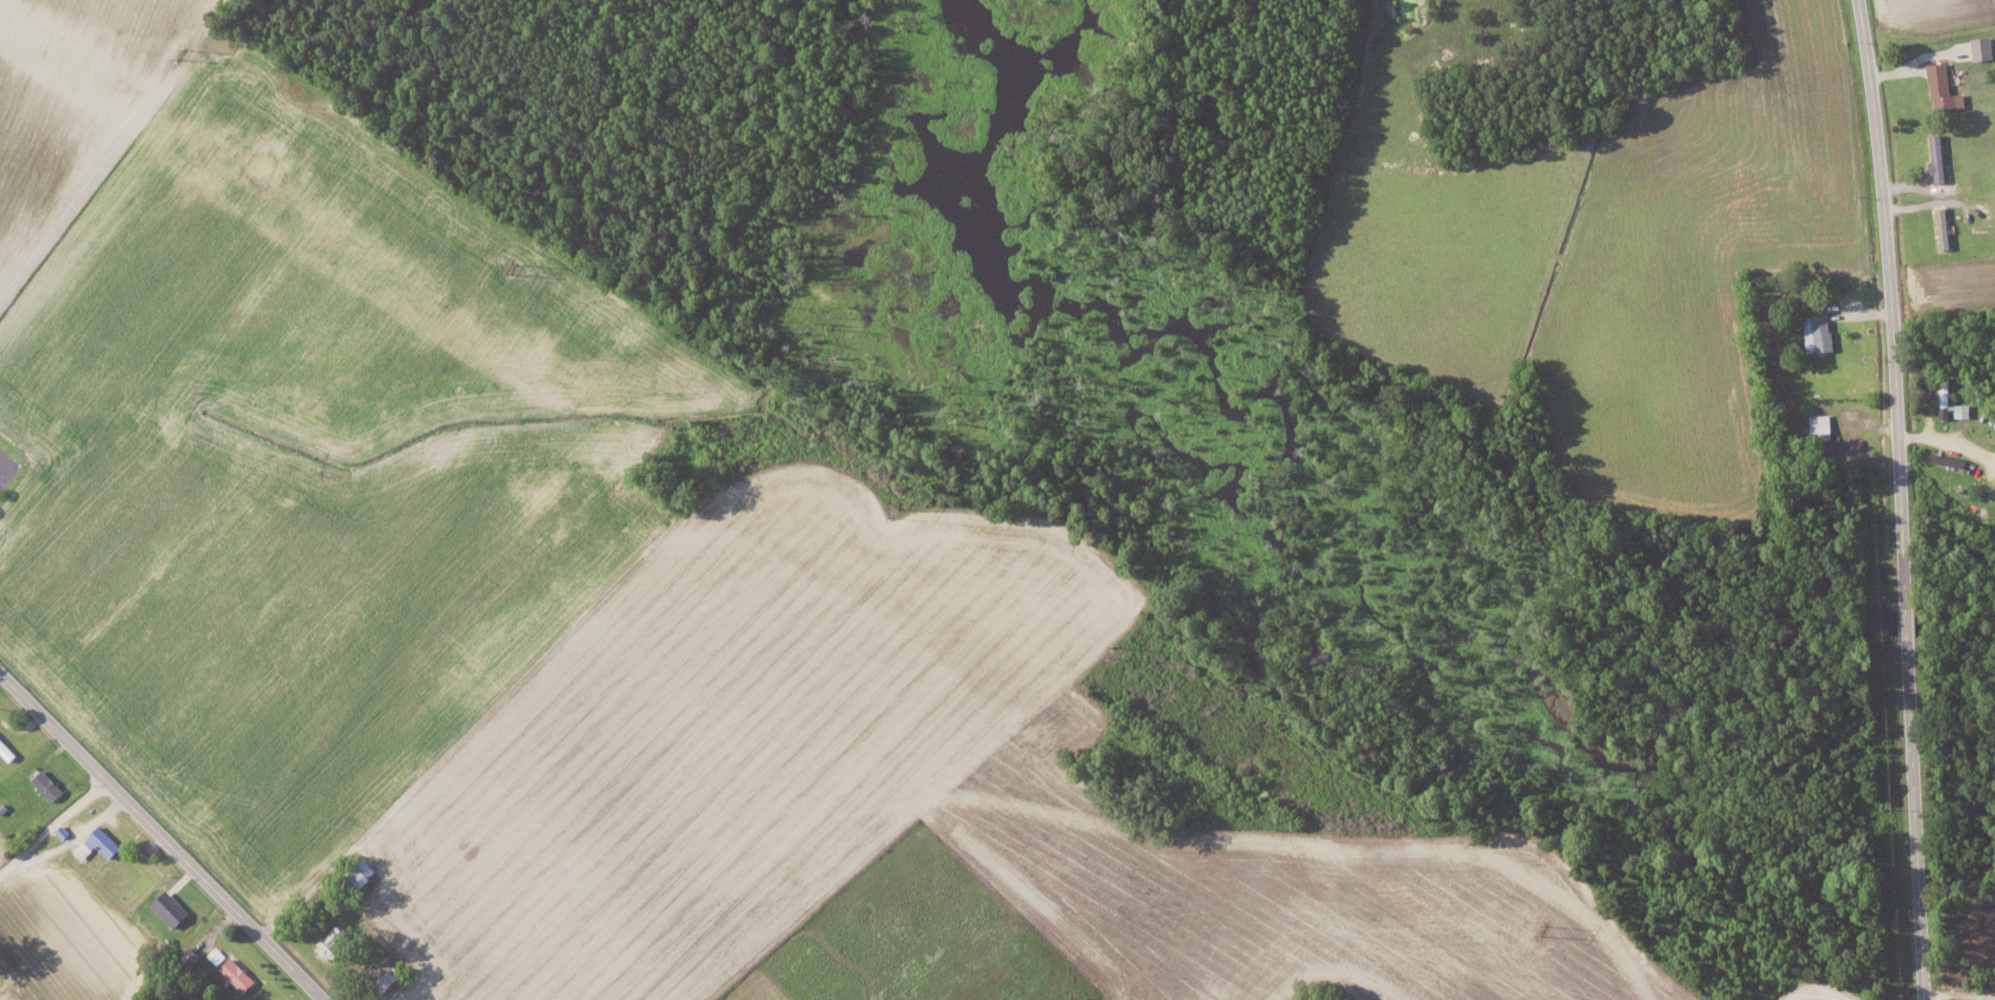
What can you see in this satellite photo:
building: (1985, 48)
power tower: (182, 51)
building: (1945, 88)
building: (1939, 158)
power tower: (513, 269)
road: (1888, 297)
building: (1820, 332)
building: (1944, 390)
building: (1822, 423)
building: (1824, 436)
building: (1948, 460)
power tower: (894, 509)
road: (1906, 617)
power tower: (1110, 651)
building: (49, 784)
road: (1914, 819)
road: (53, 823)
road: (162, 835)
building: (100, 843)
building: (172, 908)
power tower: (1540, 928)
building: (333, 942)
road: (5, 970)
building: (239, 974)
road: (1816, 991)
road: (1958, 995)

